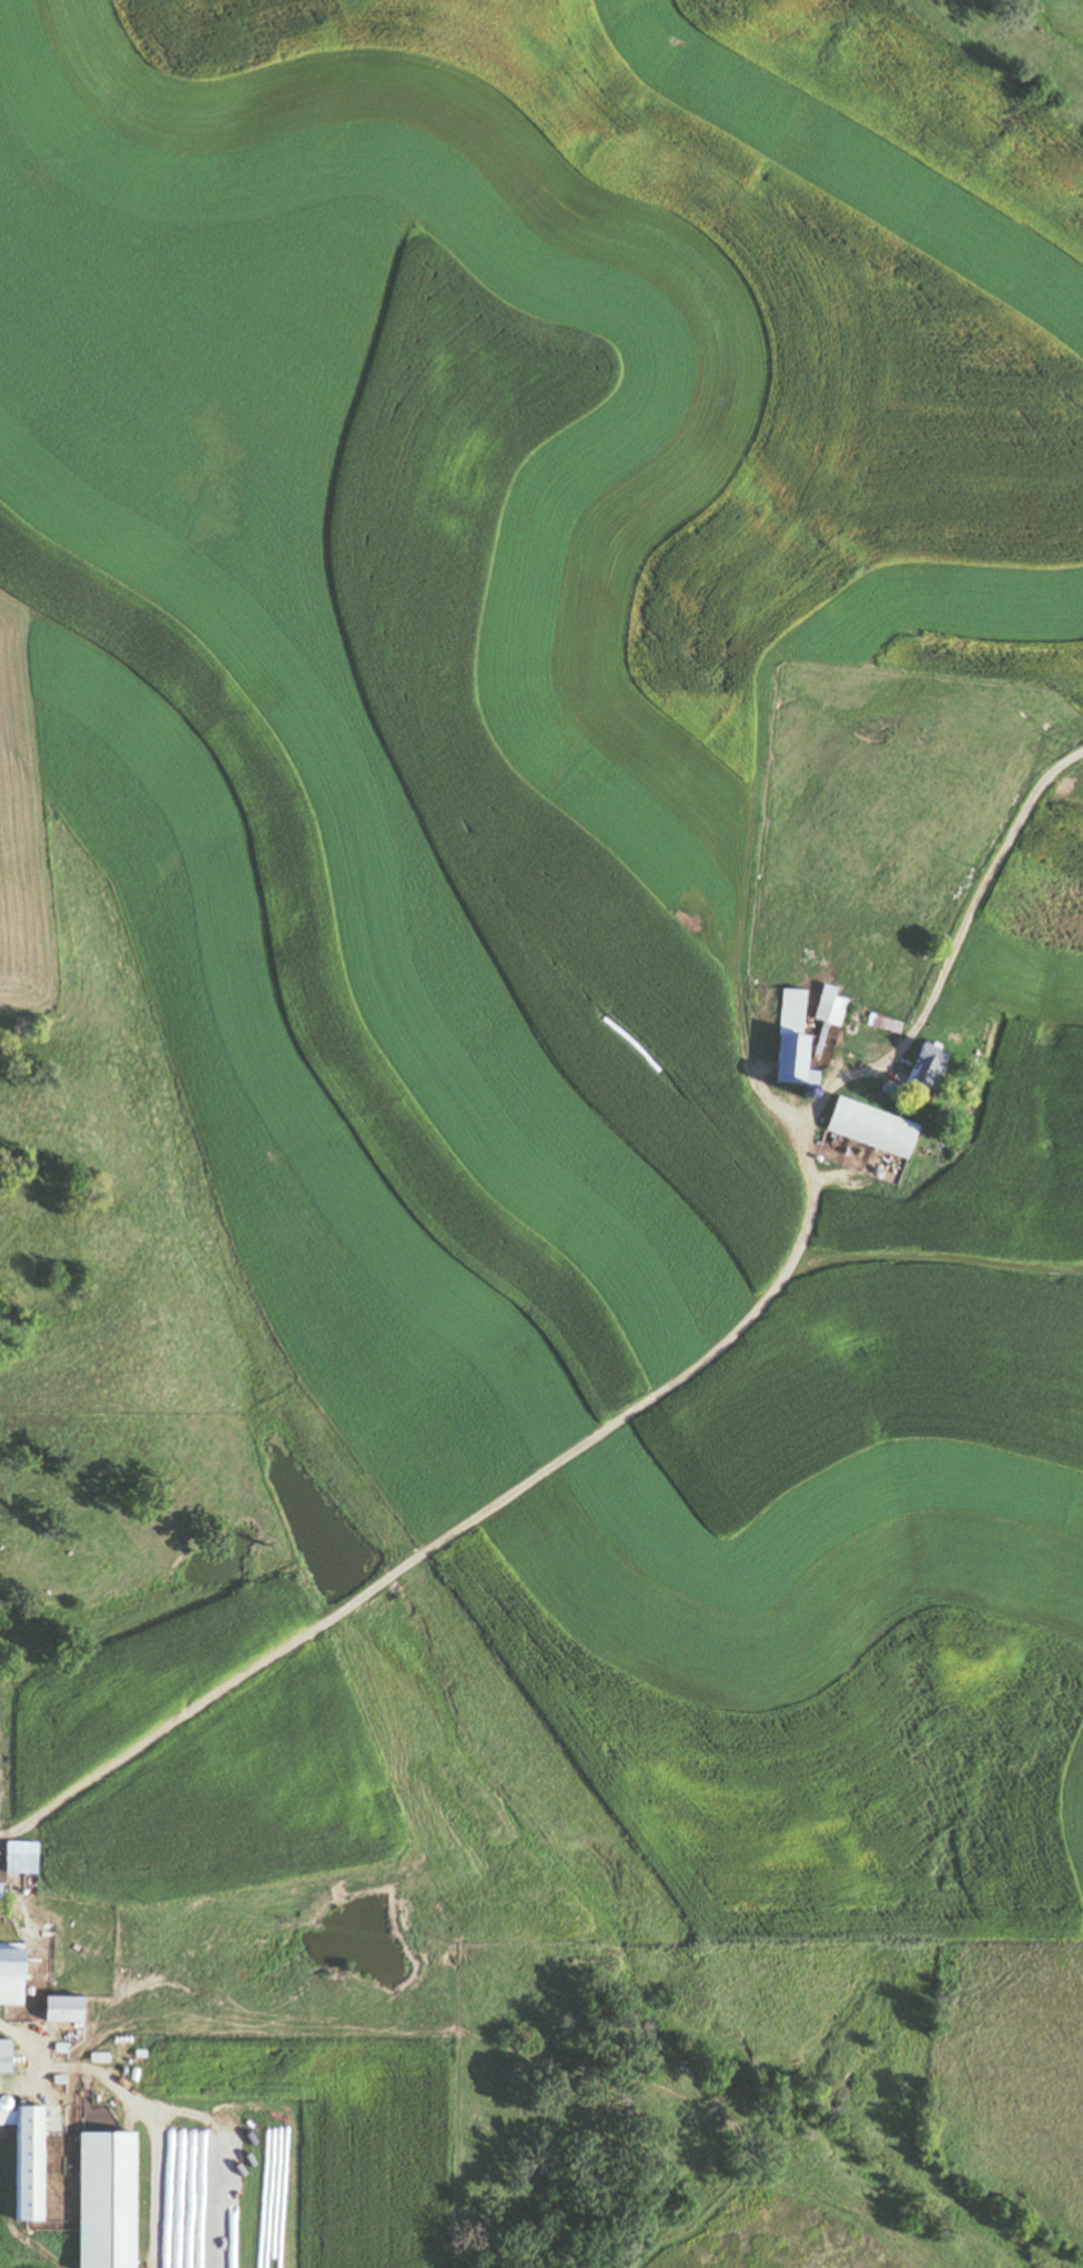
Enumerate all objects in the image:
building: (828, 1006)
building: (788, 1042)
building: (920, 1070)
building: (868, 1128)
road: (666, 1391)
building: (17, 1857)
building: (9, 1977)
building: (59, 2009)
building: (2, 2057)
road: (141, 2105)
building: (1, 2112)
building: (26, 2165)
building: (189, 2179)
building: (102, 2200)
building: (239, 2208)

